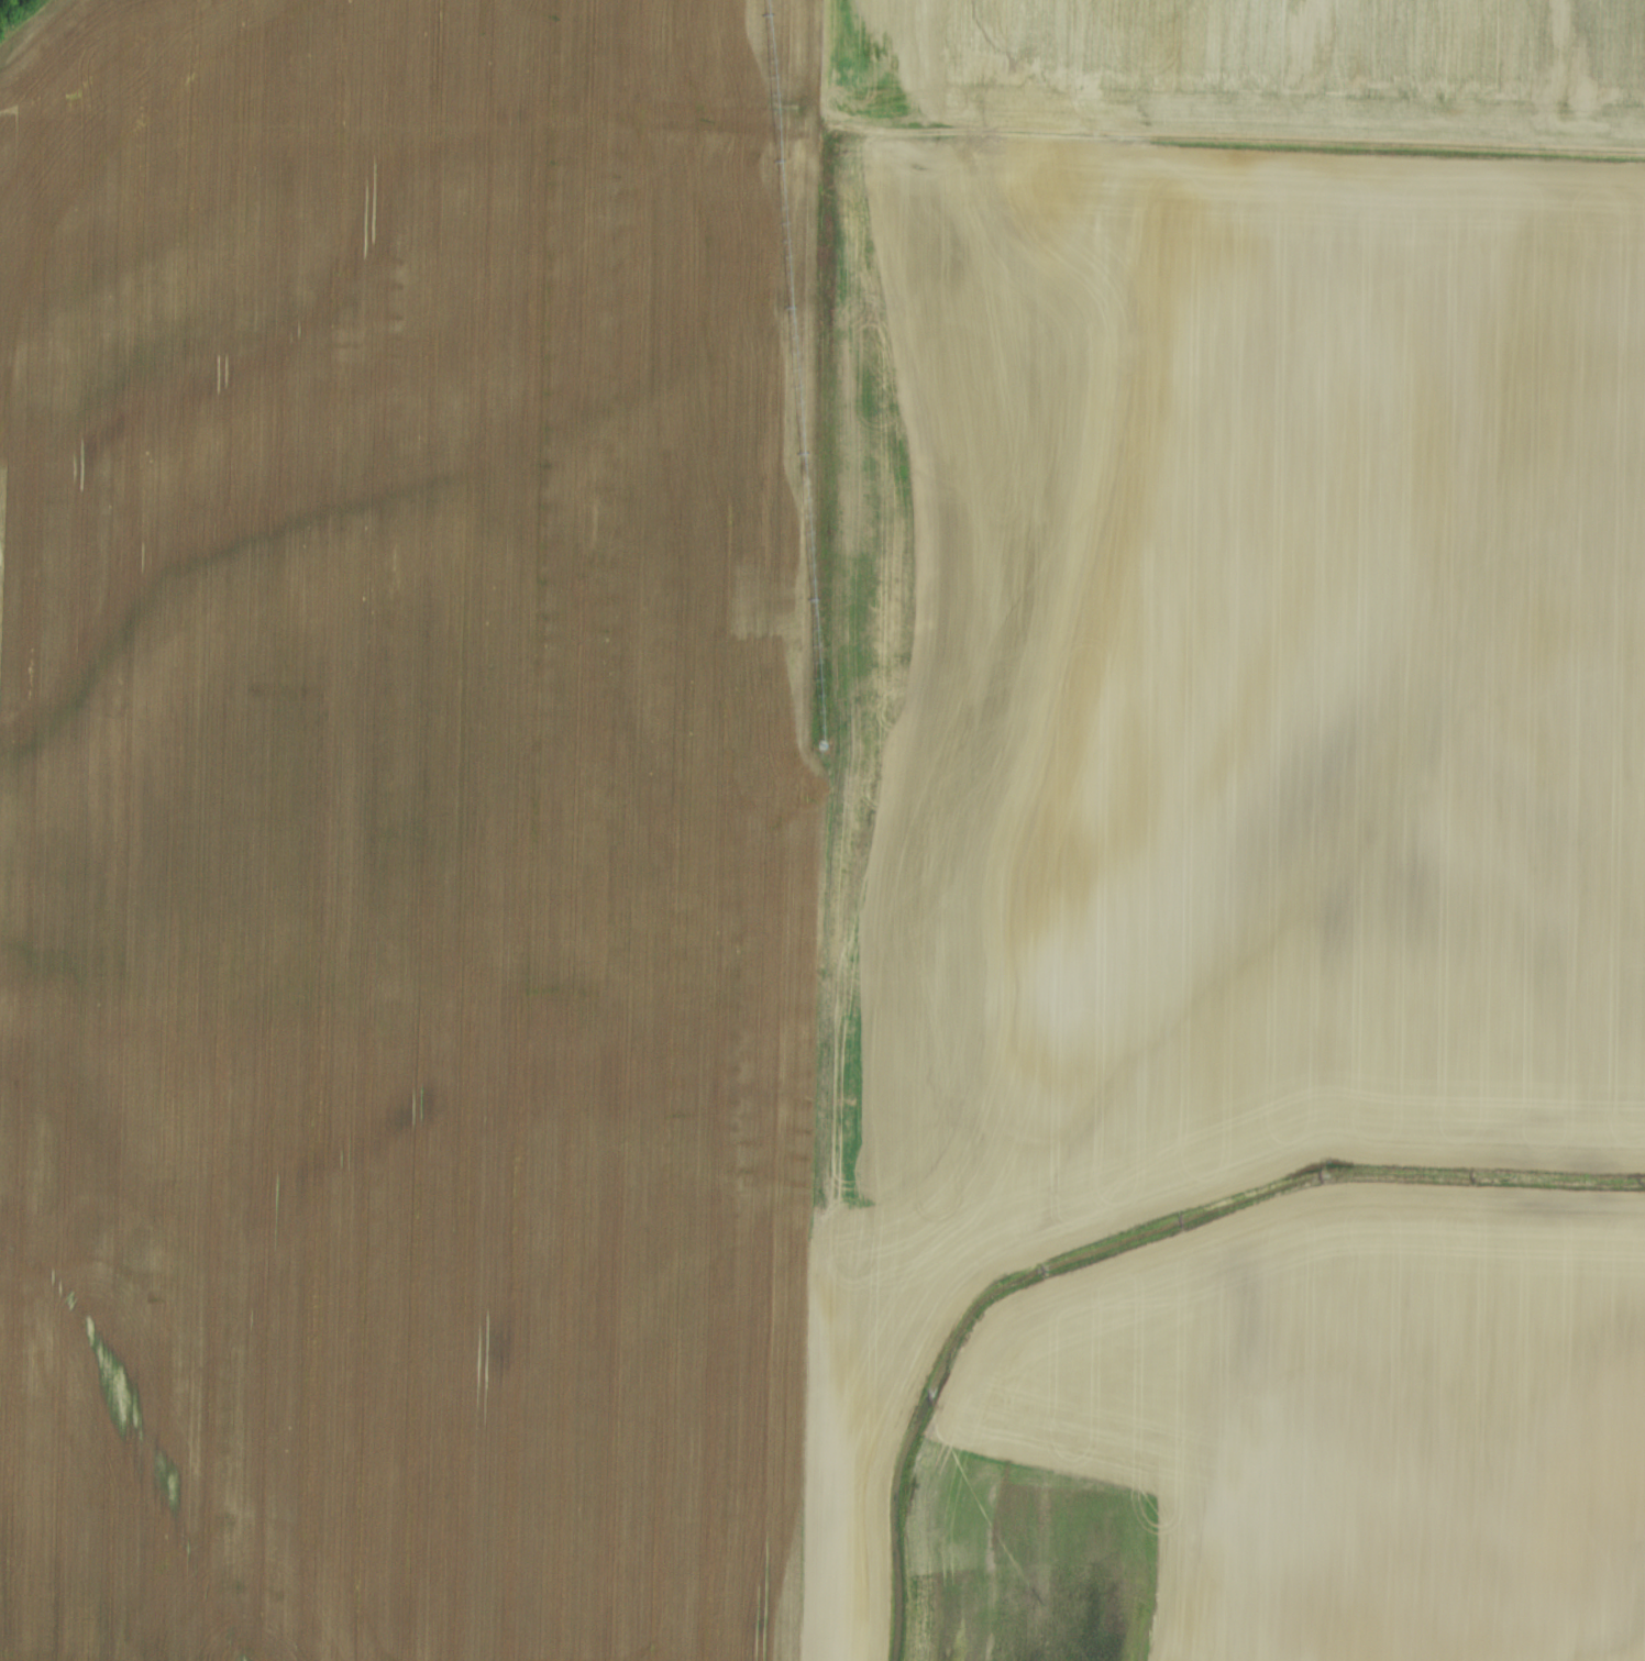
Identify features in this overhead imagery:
road: (1172, 134)

